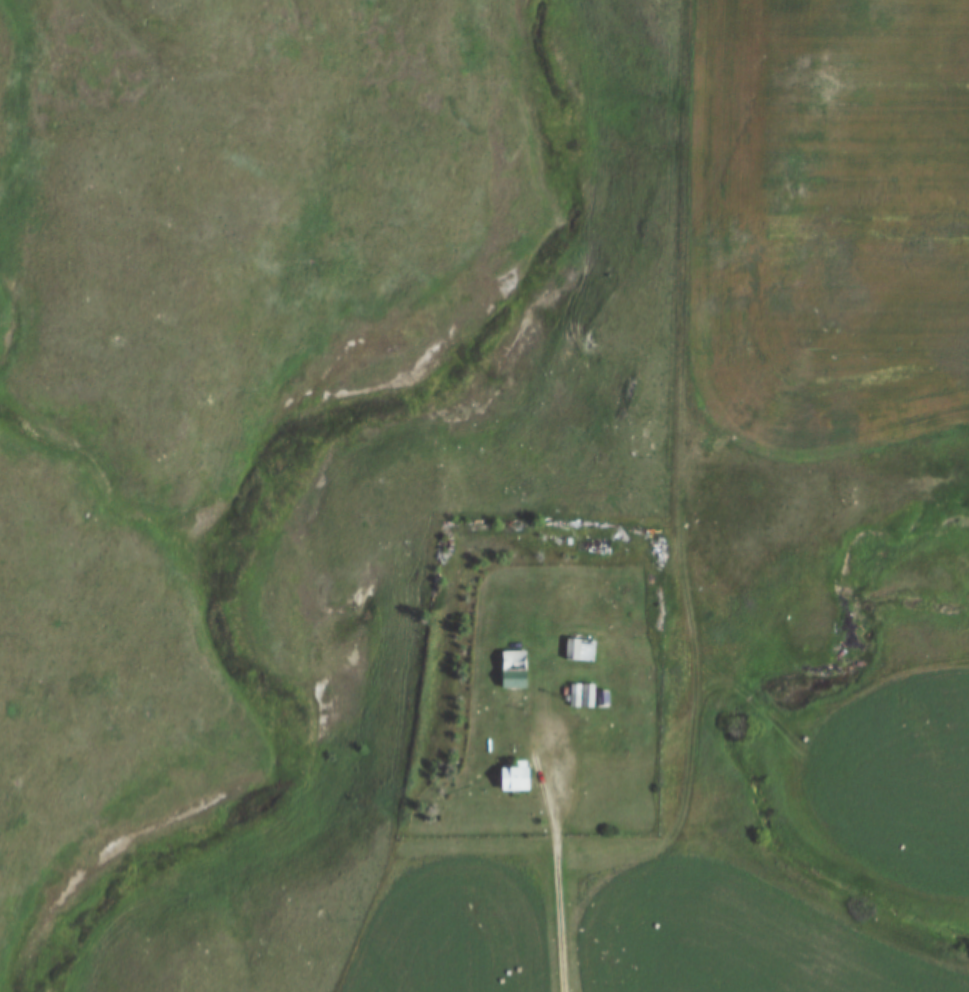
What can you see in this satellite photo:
building: (583, 644)
building: (518, 655)
building: (518, 673)
building: (579, 690)
building: (591, 690)
building: (607, 693)
road: (556, 734)
building: (518, 772)
road: (564, 899)

